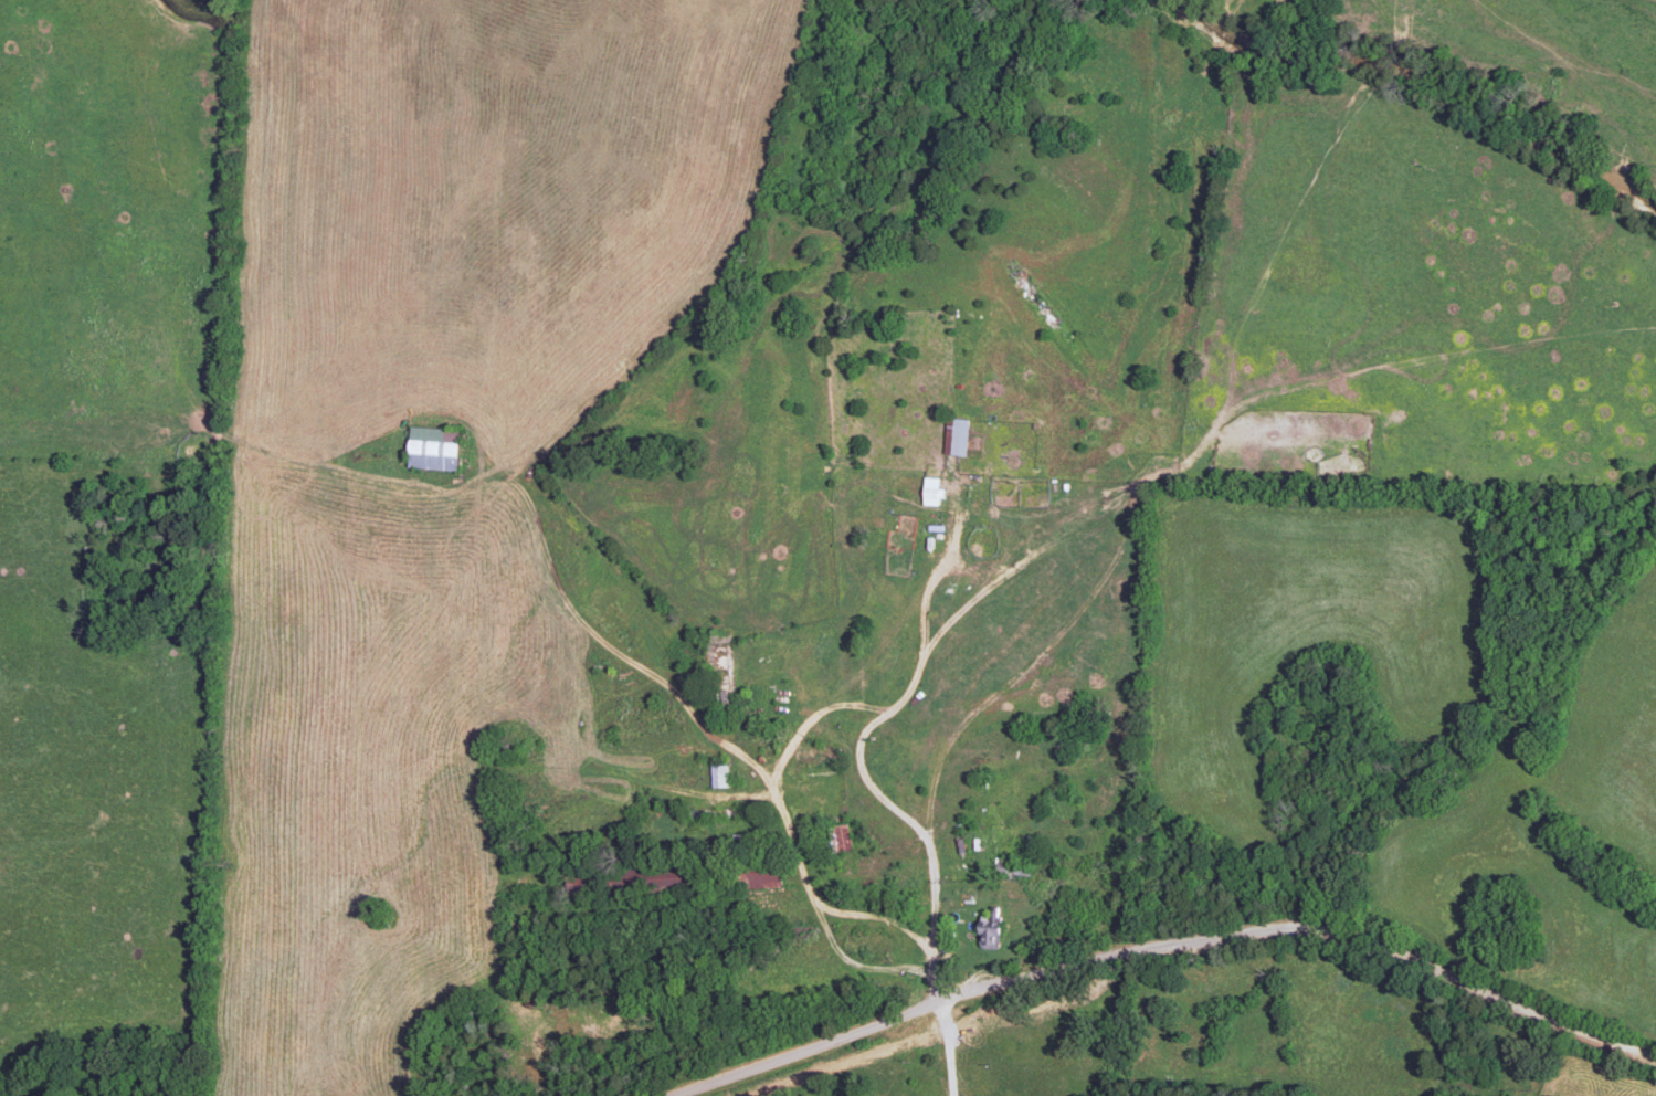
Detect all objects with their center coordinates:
building: (958, 436)
building: (435, 454)
building: (932, 492)
road: (858, 746)
building: (721, 774)
road: (1170, 946)
road: (949, 1048)

